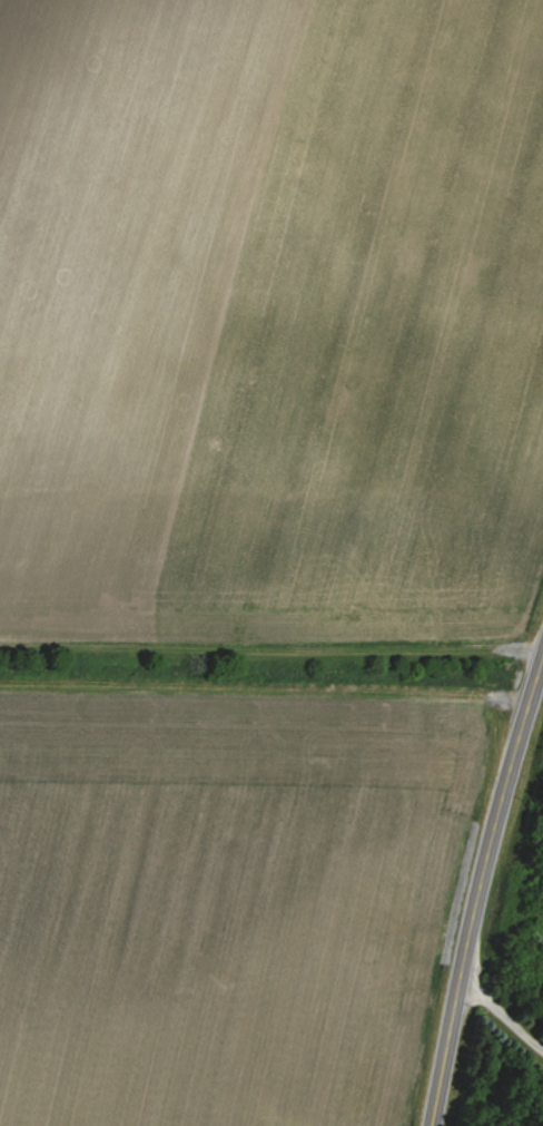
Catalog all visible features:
road: (475, 882)
road: (498, 1011)

